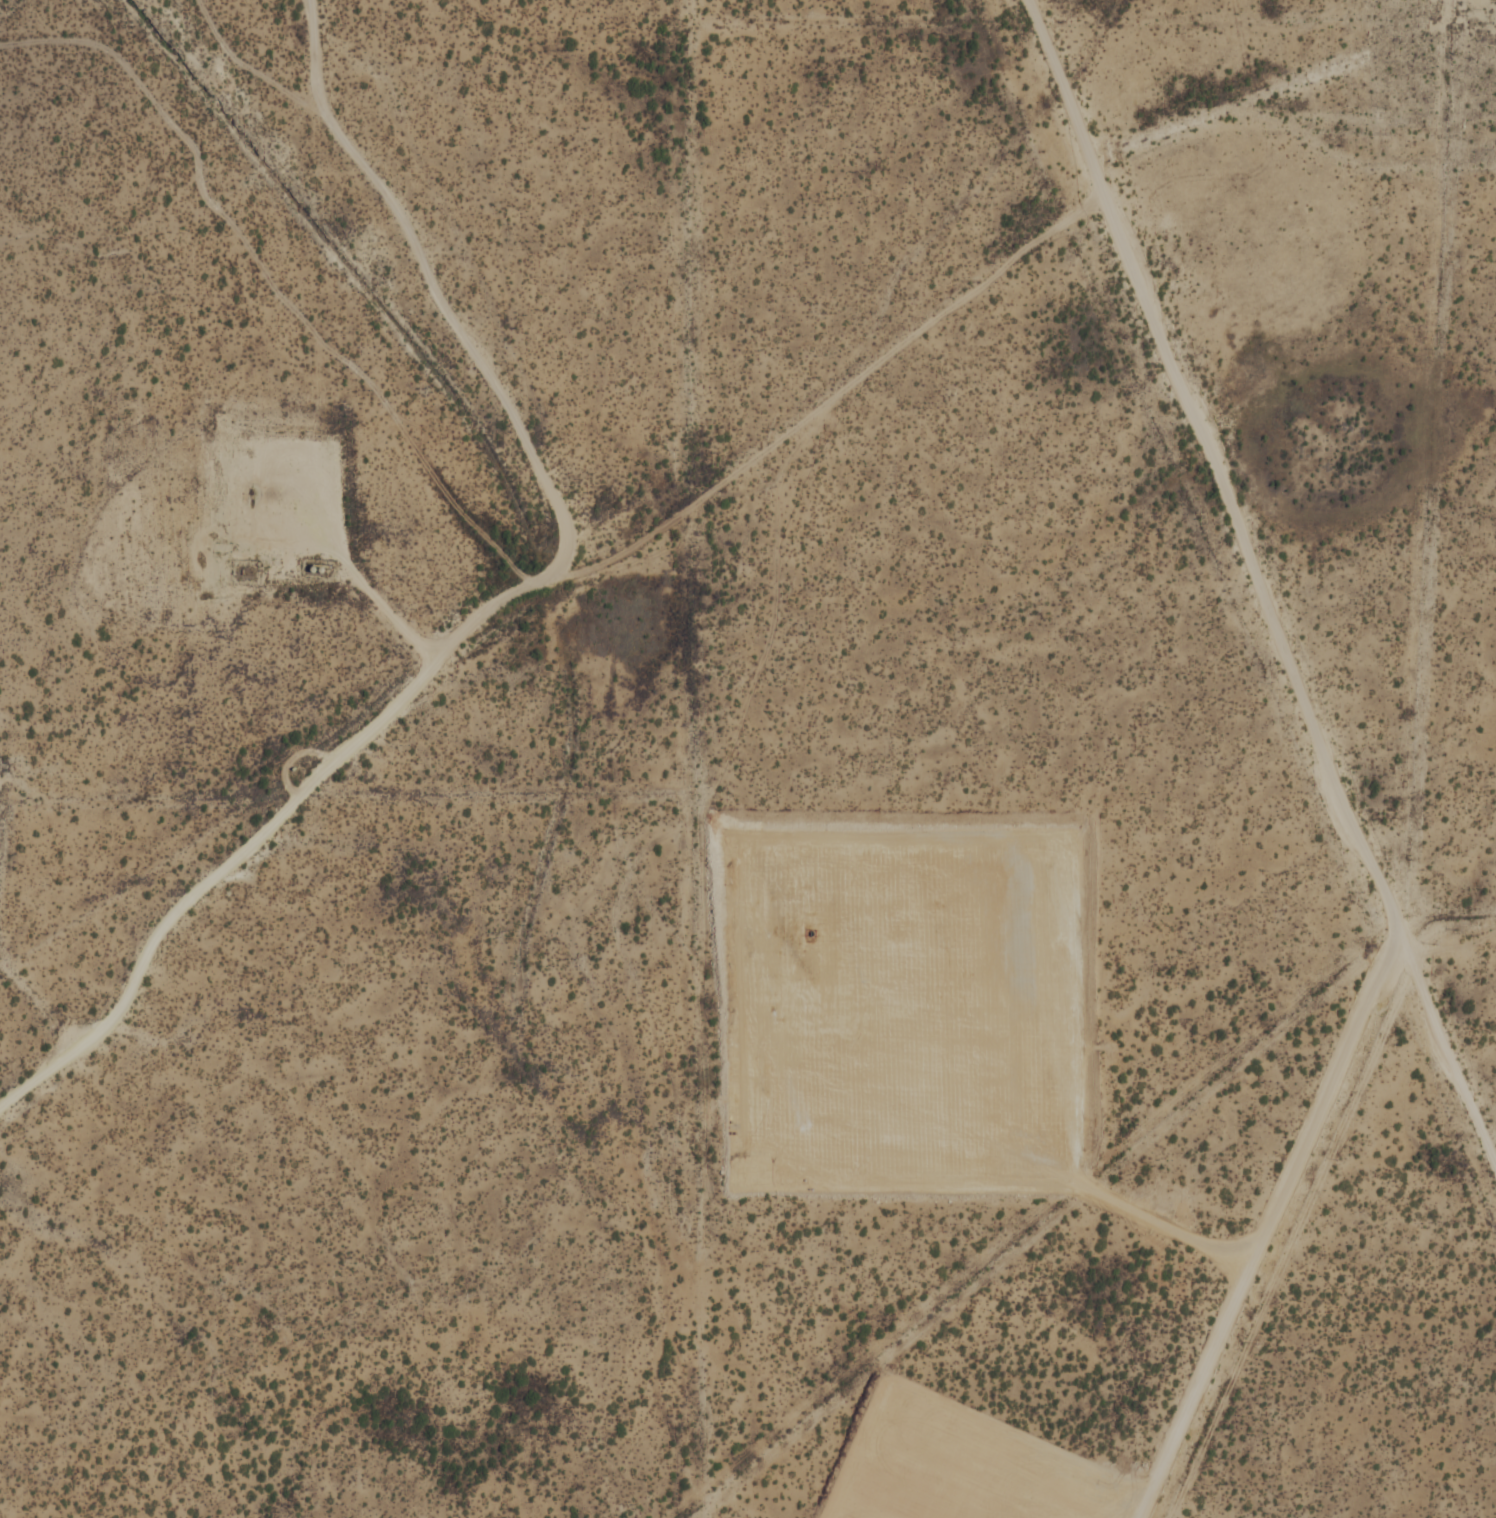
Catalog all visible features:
road: (317, 63)
road: (1225, 108)
road: (270, 281)
road: (463, 333)
road: (554, 579)
road: (1258, 580)
road: (518, 613)
road: (41, 1004)

